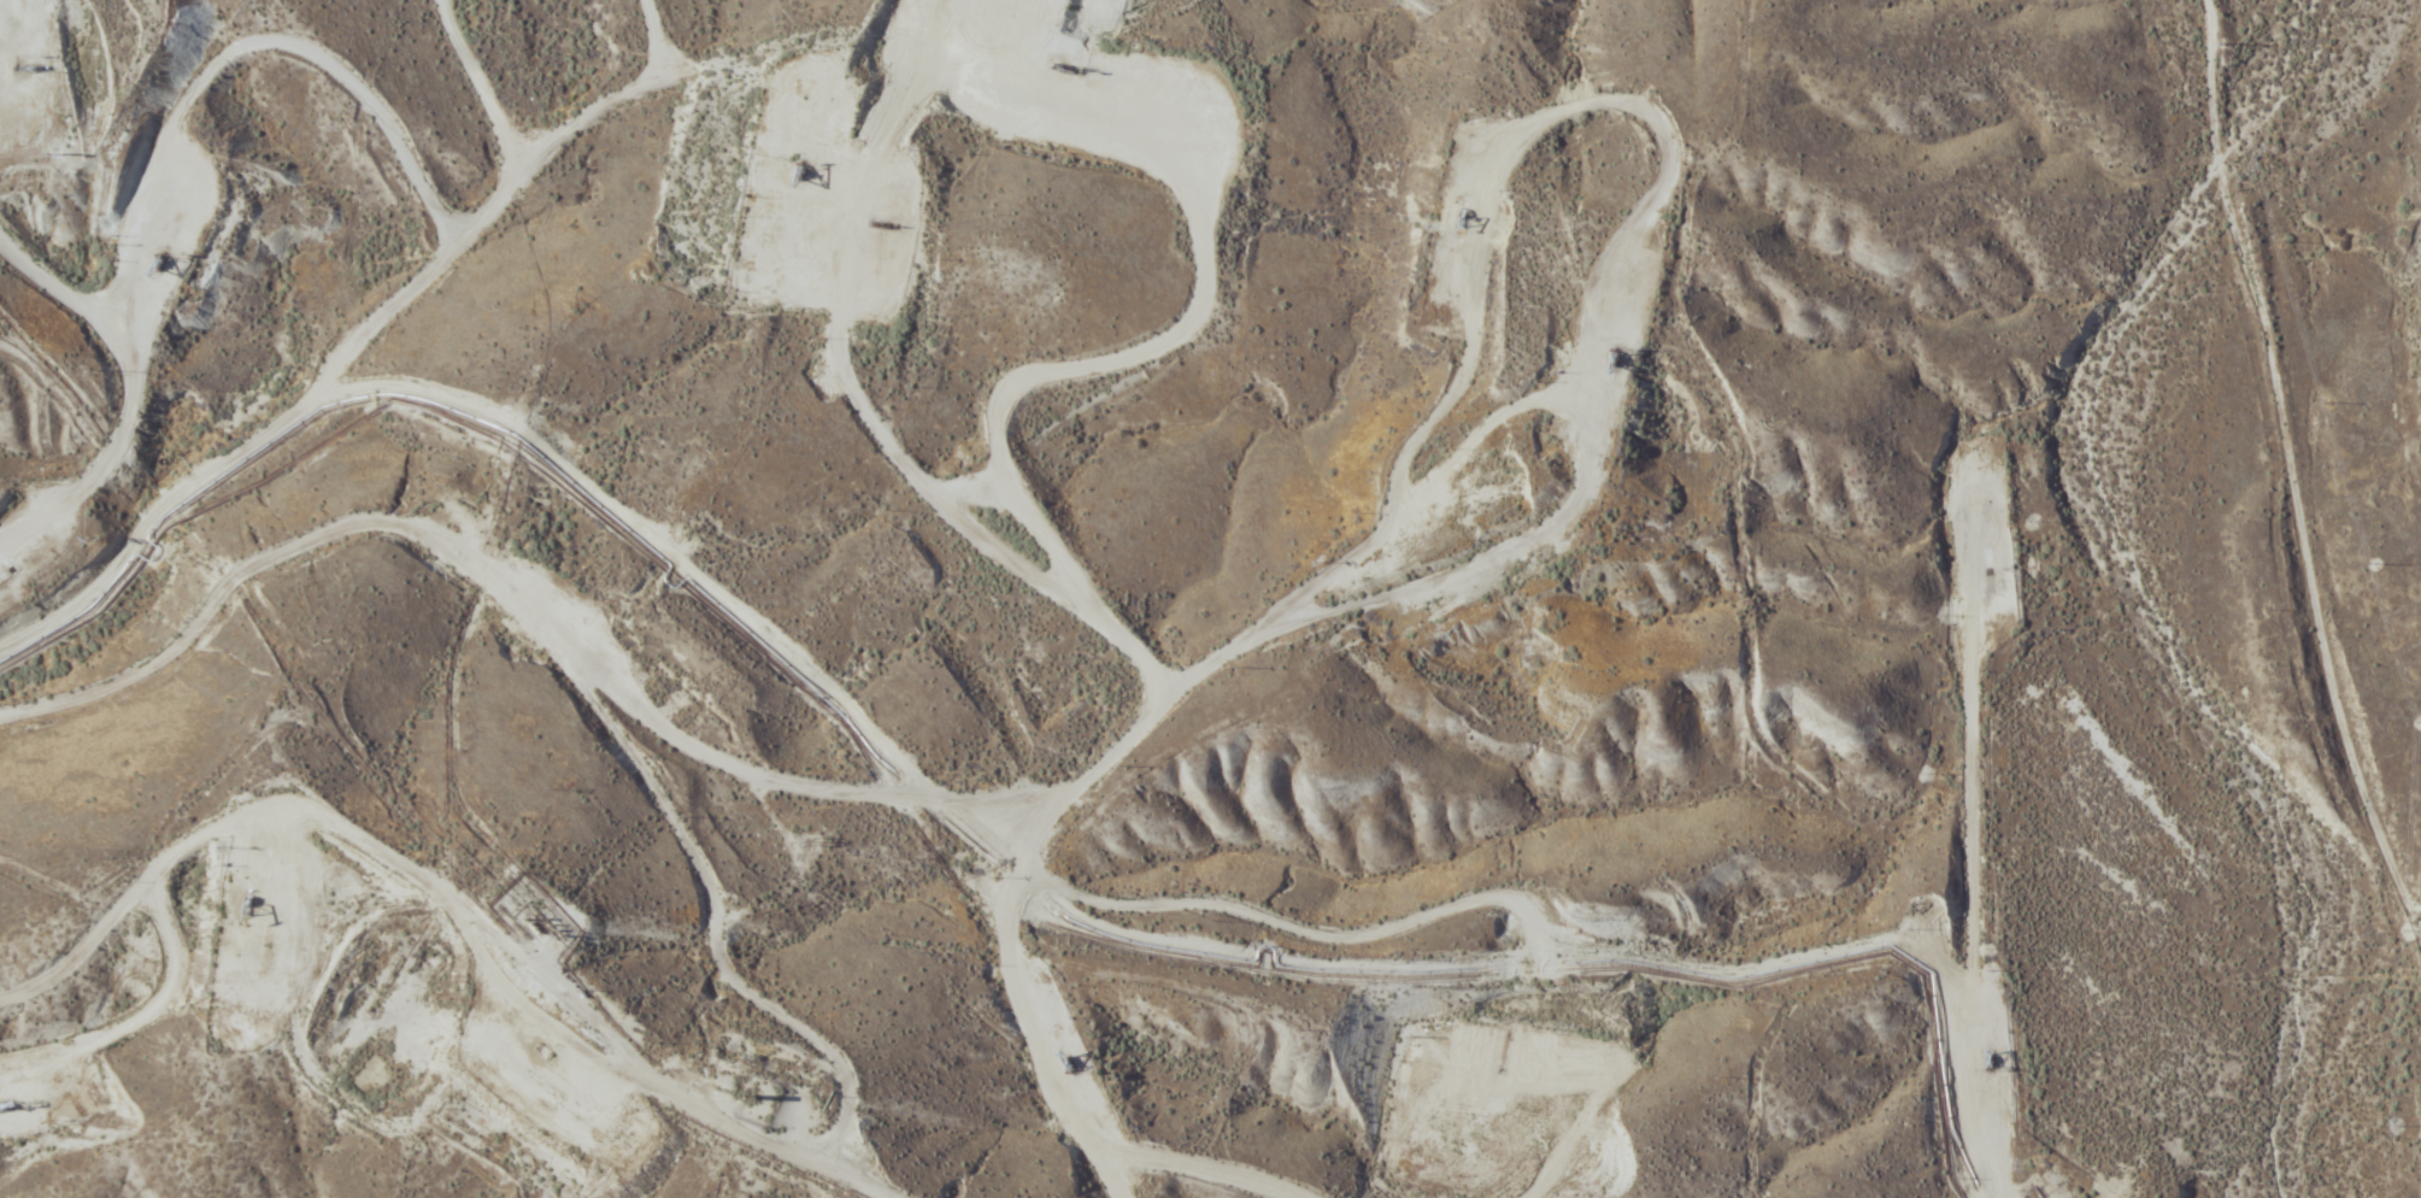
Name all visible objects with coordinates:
road: (2217, 168)
road: (325, 254)
road: (917, 559)
road: (2323, 638)
road: (304, 983)
road: (1873, 1034)

